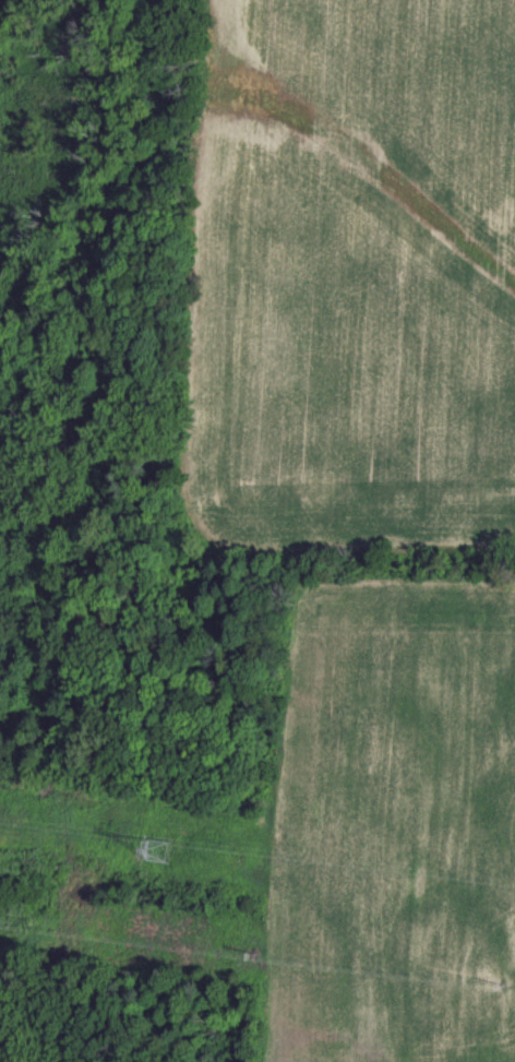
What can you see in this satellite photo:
crop: (257, 530)
power tower: (156, 849)

